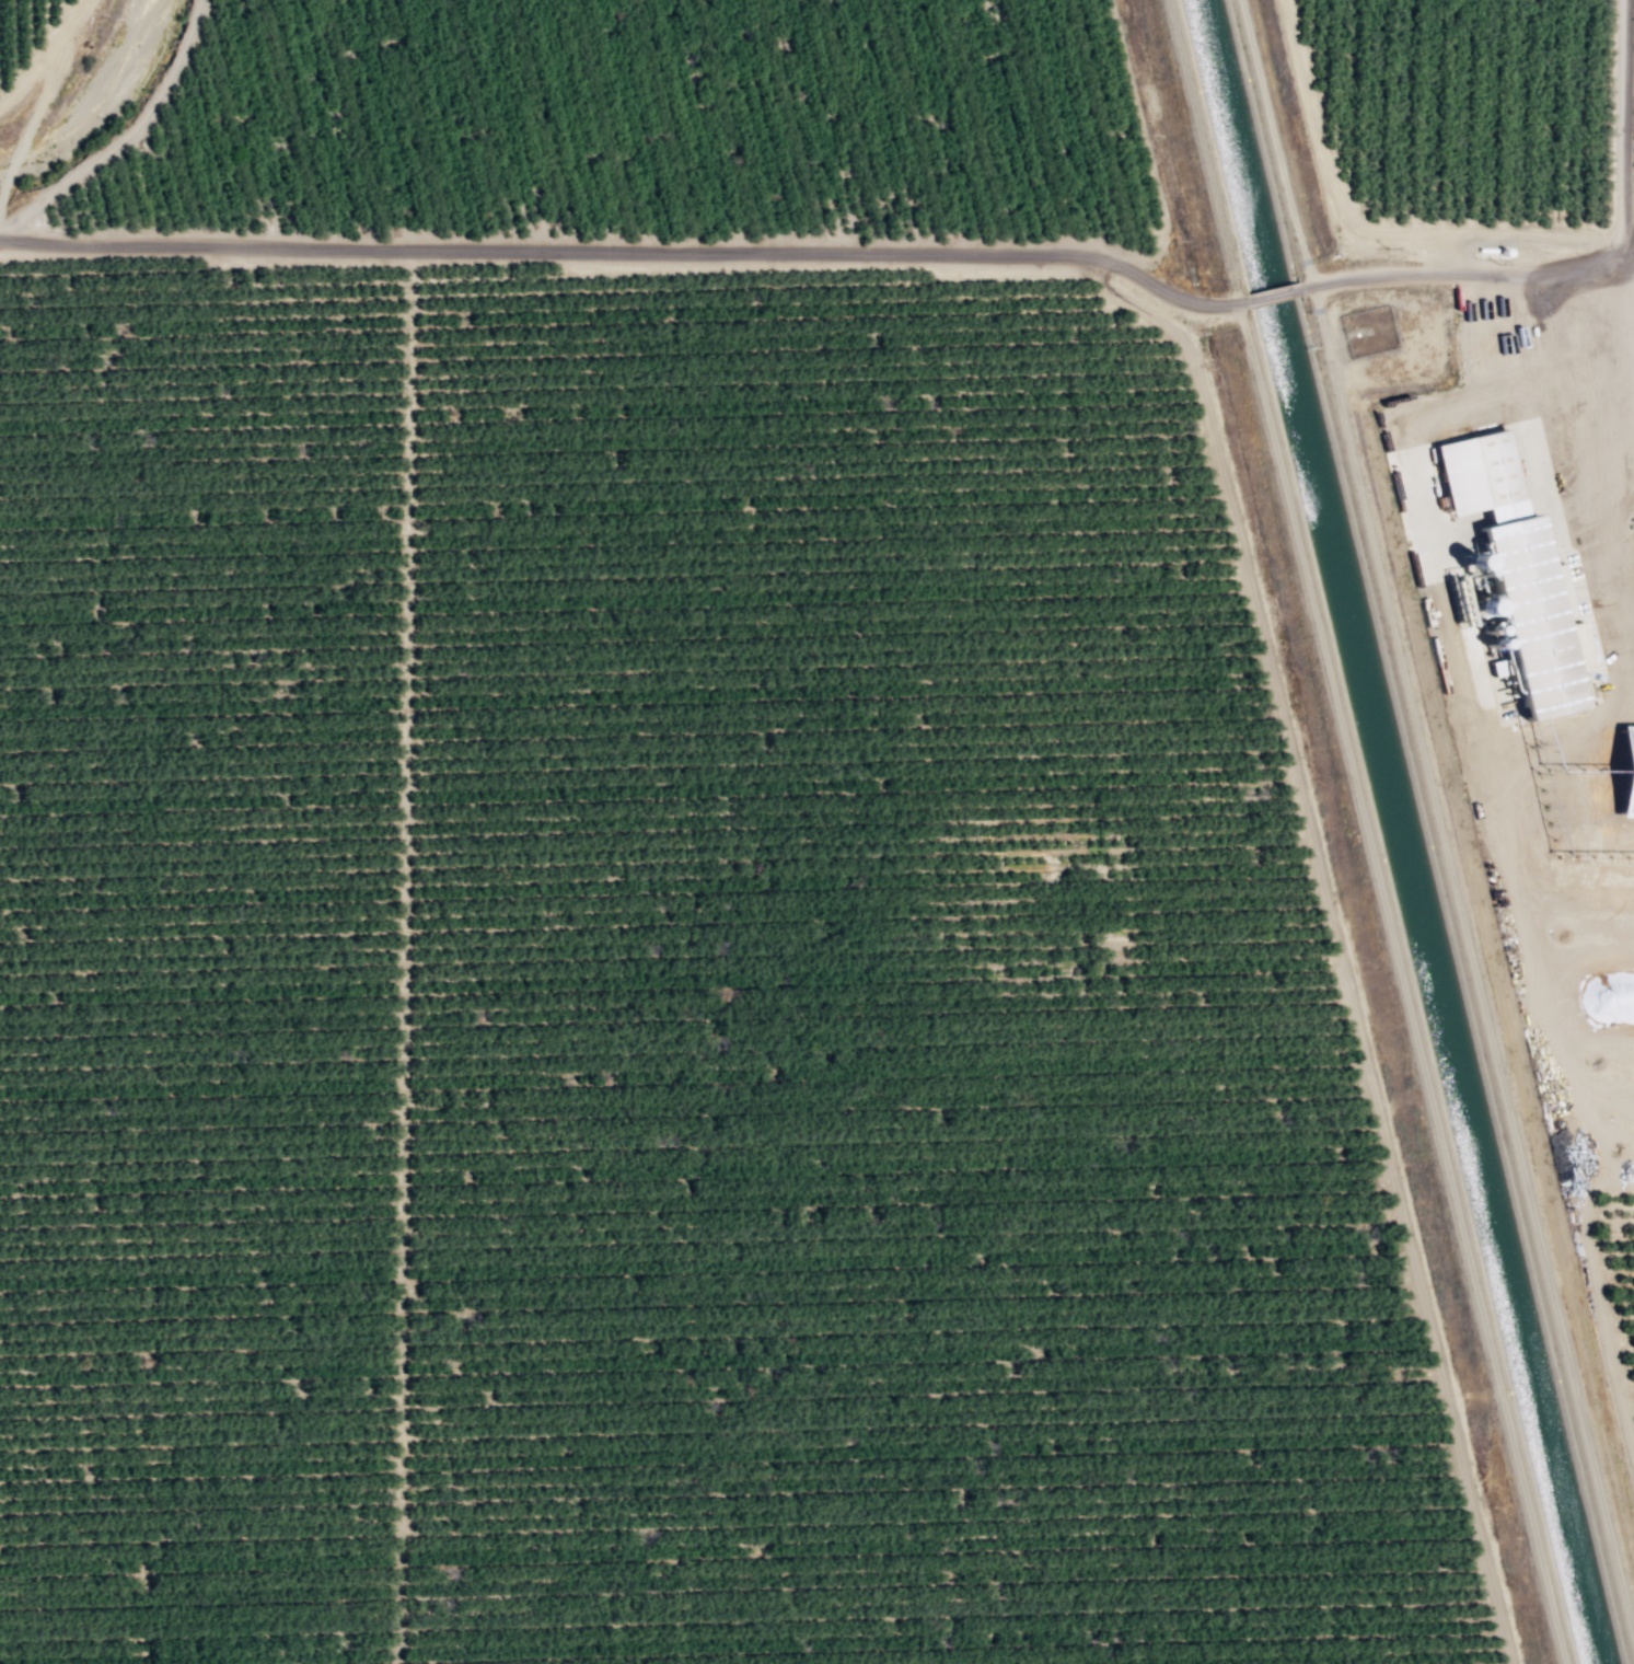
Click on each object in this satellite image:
road: (76, 14)
road: (34, 68)
road: (34, 115)
road: (1626, 130)
road: (127, 137)
road: (1271, 143)
road: (1201, 151)
road: (1370, 229)
road: (1629, 229)
road: (627, 251)
road: (1467, 276)
road: (1633, 281)
road: (1273, 294)
road: (1629, 540)
building: (1511, 578)
road: (1467, 704)
road: (1334, 940)
road: (1471, 968)
road: (1620, 1176)
road: (1599, 1315)

